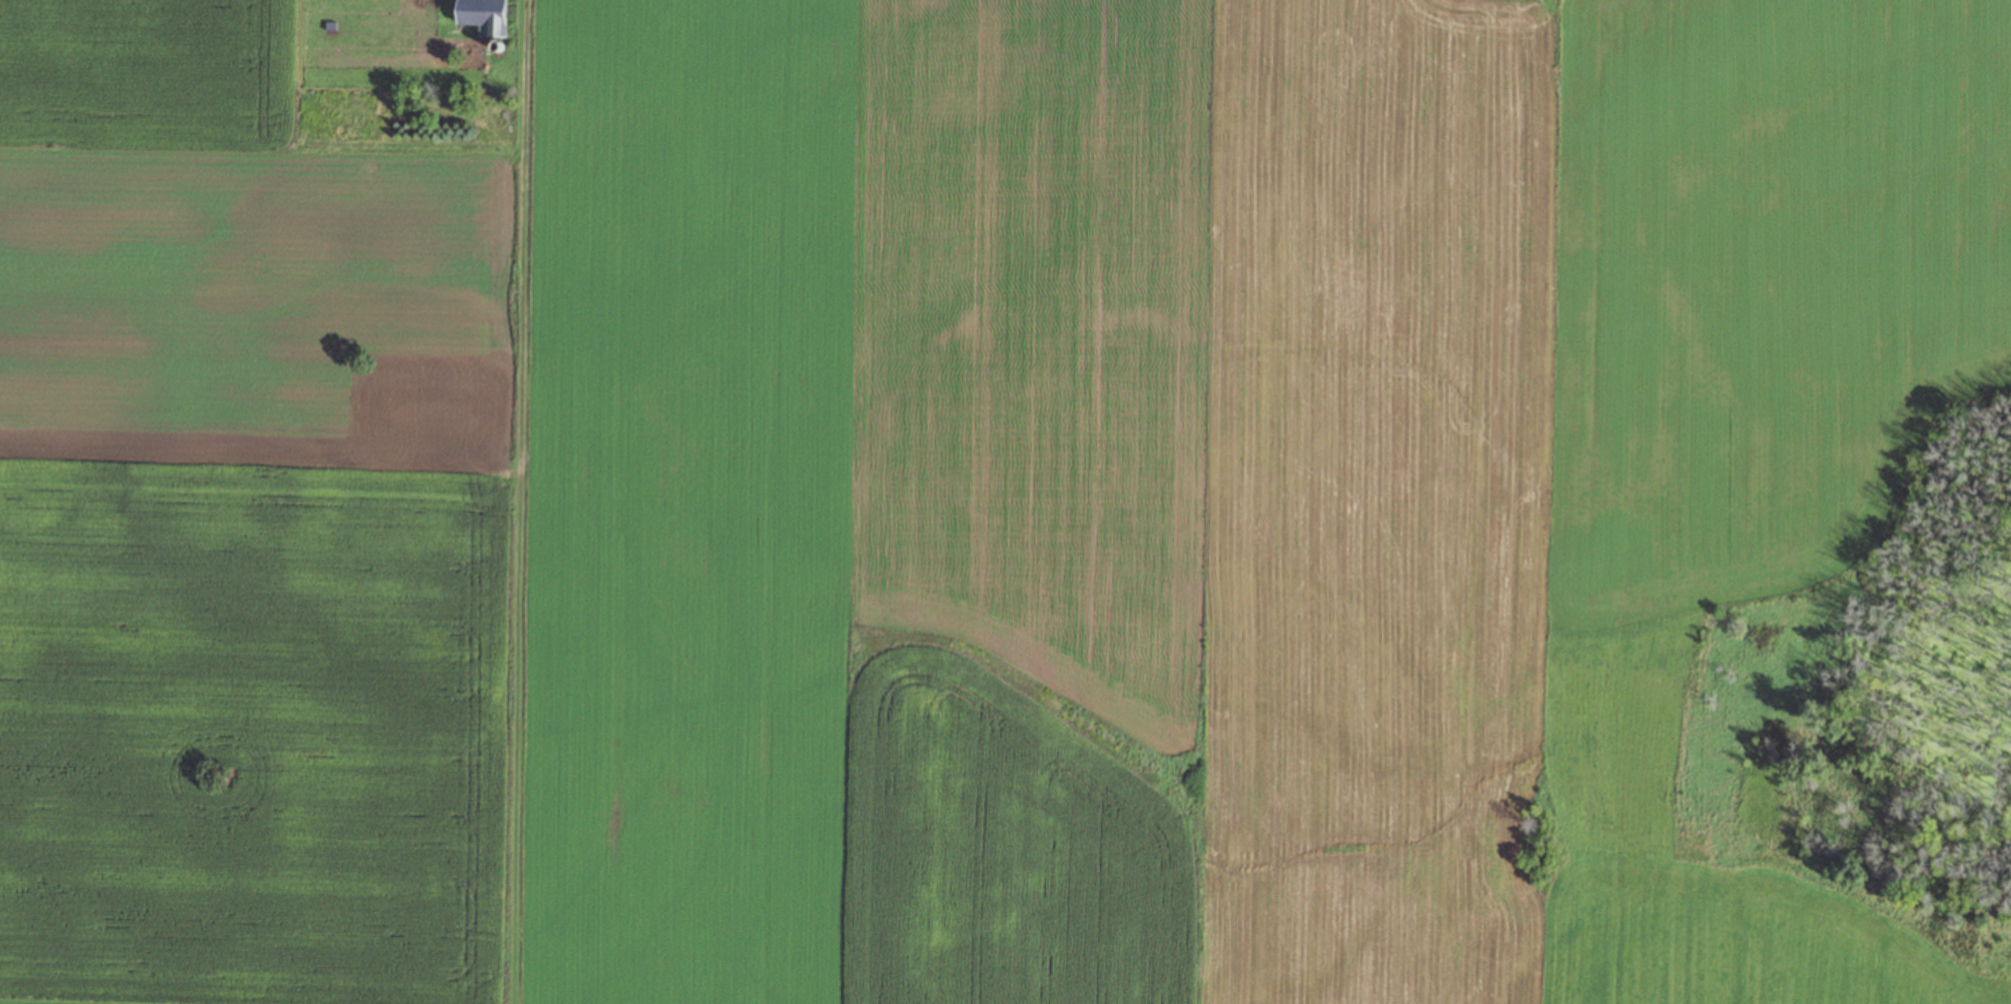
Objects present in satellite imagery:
building: (481, 13)

